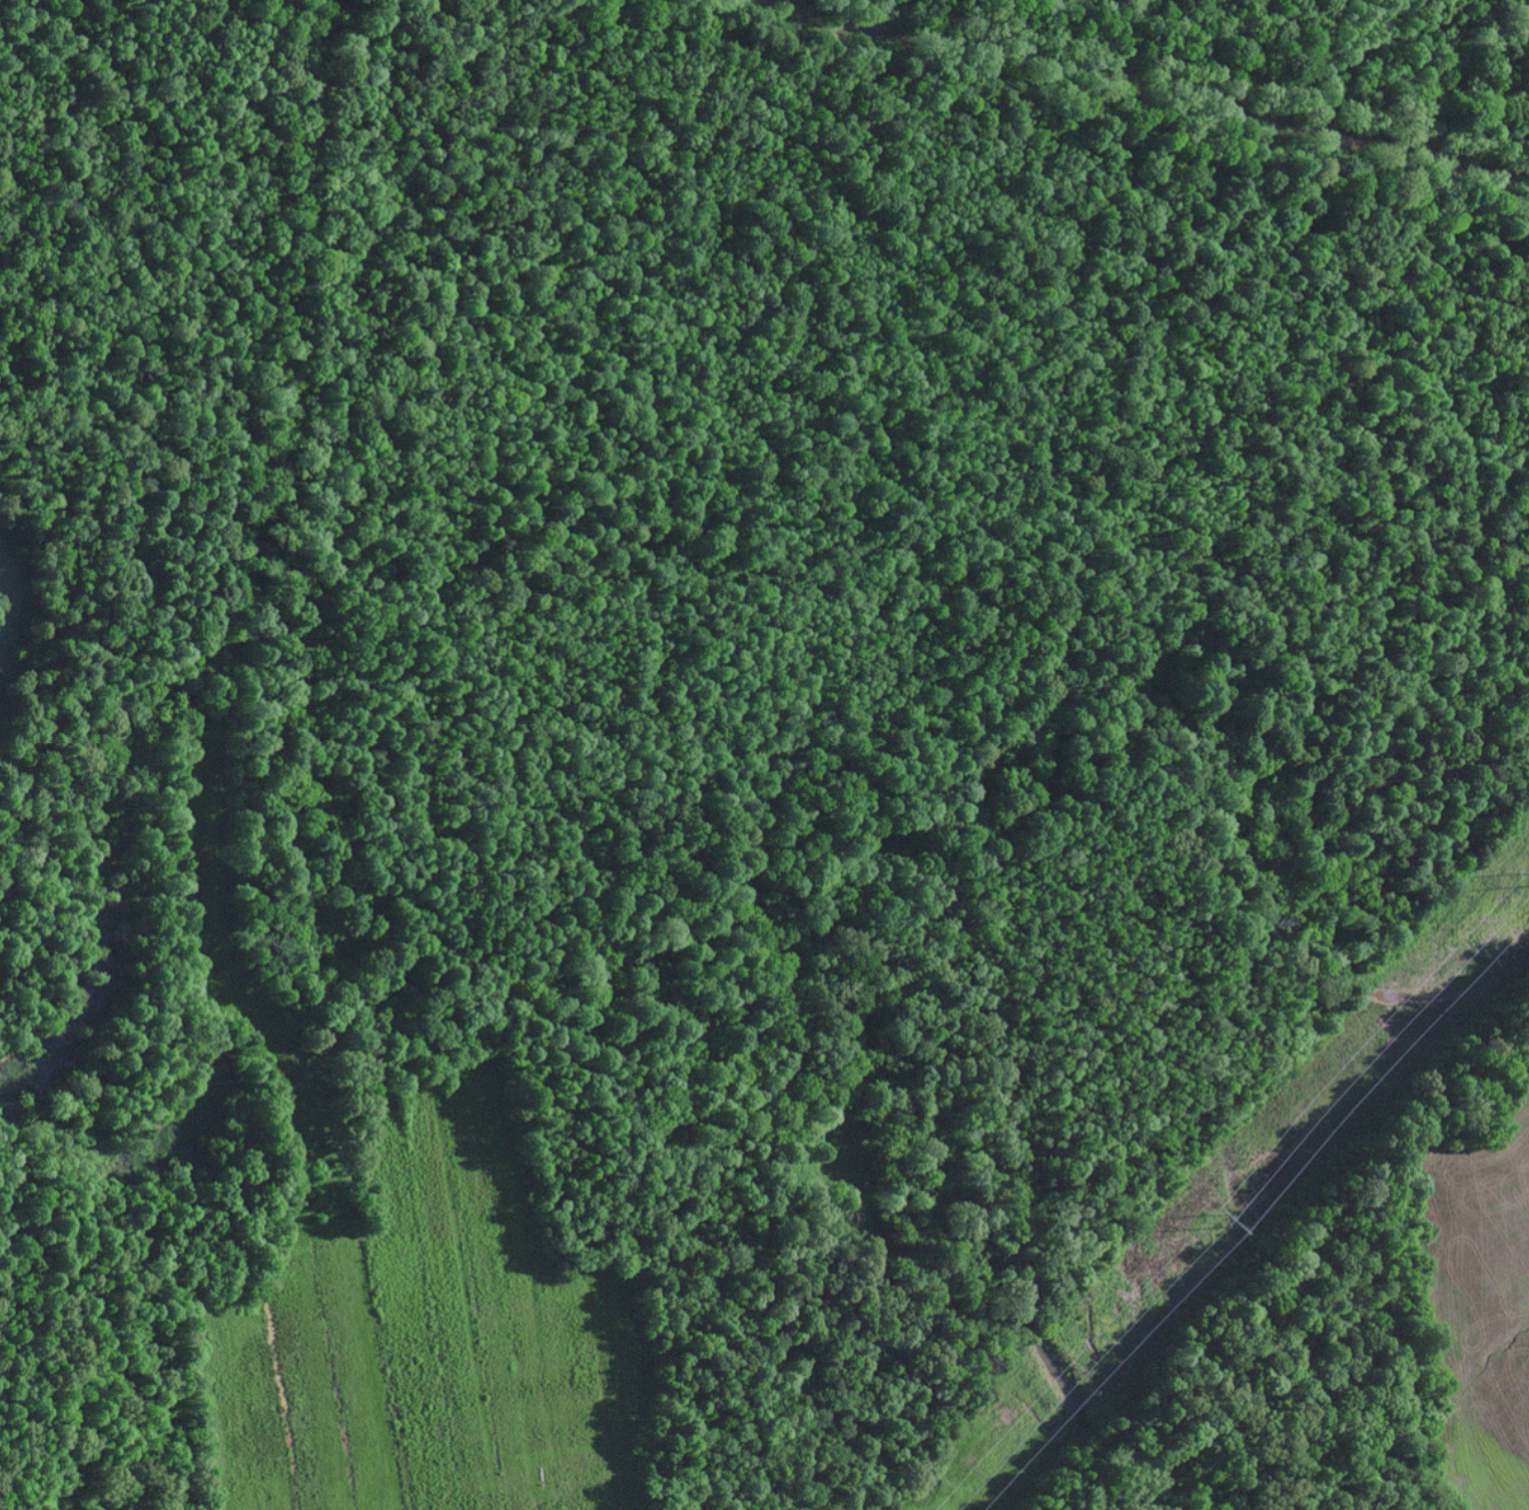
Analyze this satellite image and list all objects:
power tower: (1220, 1215)

